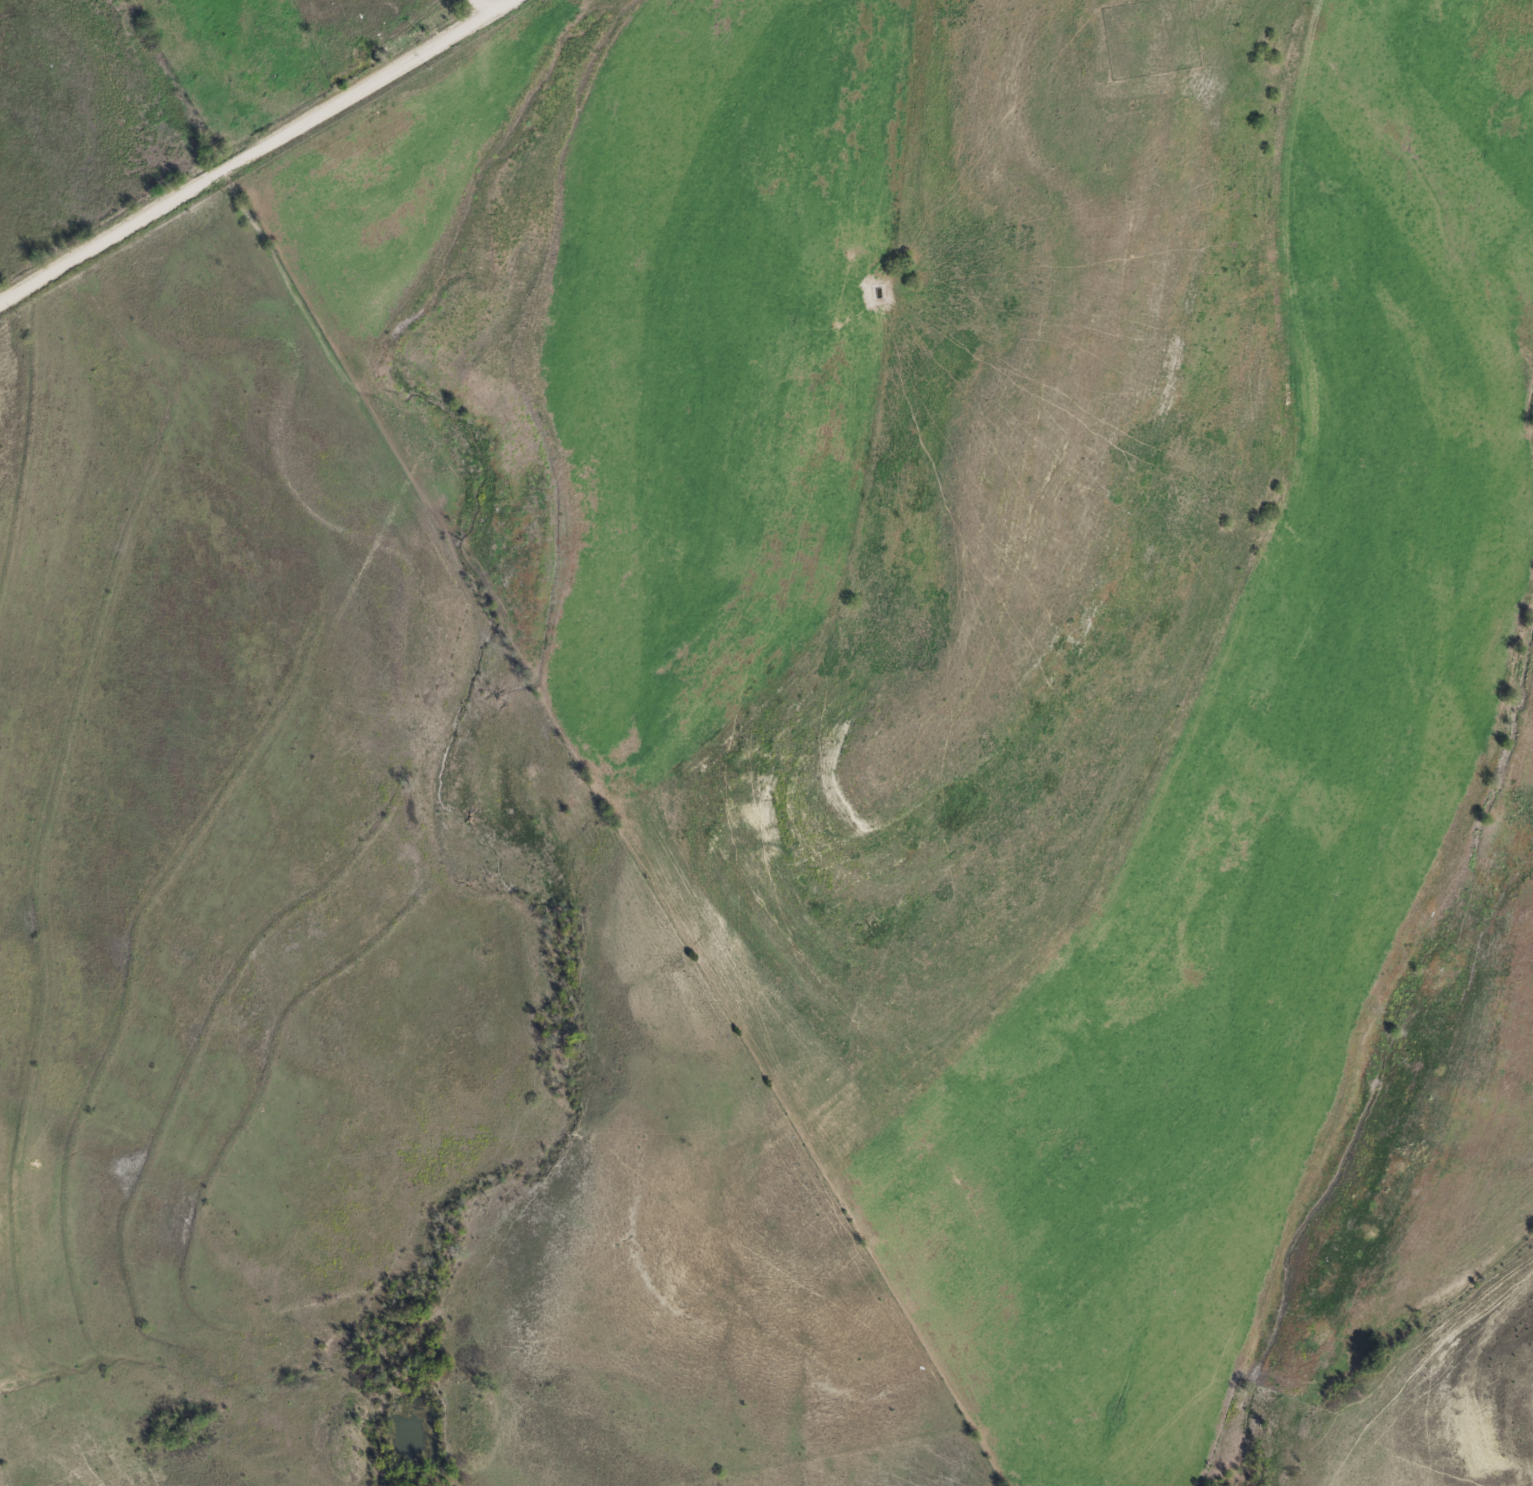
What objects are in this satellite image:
road: (486, 8)
building: (365, 32)
road: (259, 152)

